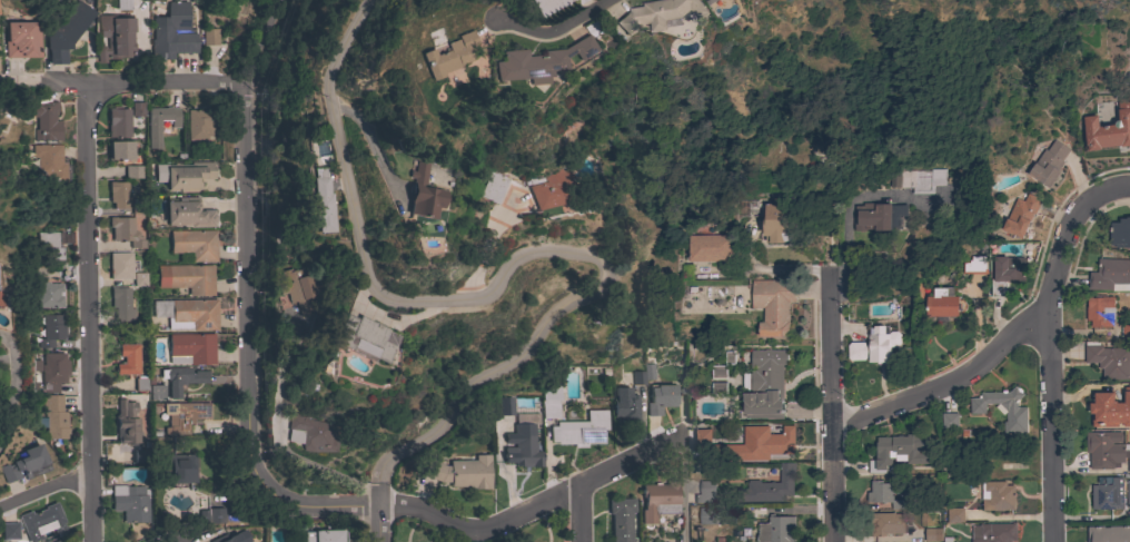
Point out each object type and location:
building: (711, 1)
building: (123, 4)
building: (545, 6)
building: (660, 14)
road: (555, 30)
building: (171, 32)
building: (115, 36)
building: (209, 36)
building: (22, 39)
building: (62, 39)
building: (1128, 45)
building: (449, 55)
building: (537, 61)
road: (48, 80)
road: (162, 85)
building: (137, 108)
building: (46, 120)
building: (117, 121)
building: (159, 122)
building: (199, 124)
building: (1110, 129)
road: (369, 136)
building: (119, 149)
building: (49, 160)
building: (1048, 164)
building: (132, 171)
building: (189, 176)
building: (918, 179)
building: (497, 183)
building: (553, 190)
building: (118, 194)
building: (418, 194)
building: (319, 200)
road: (850, 203)
building: (137, 206)
building: (188, 213)
building: (1020, 215)
building: (879, 216)
building: (780, 223)
building: (125, 230)
building: (1120, 233)
road: (249, 236)
building: (195, 244)
building: (49, 245)
building: (708, 248)
road: (533, 256)
building: (119, 265)
building: (973, 265)
road: (772, 270)
building: (1004, 273)
building: (1110, 275)
building: (139, 278)
building: (187, 278)
building: (298, 288)
building: (48, 294)
building: (1, 297)
building: (120, 304)
building: (943, 304)
building: (773, 305)
building: (1099, 312)
building: (187, 313)
road: (91, 324)
building: (51, 329)
building: (1126, 331)
road: (1017, 335)
building: (364, 338)
building: (874, 346)
building: (190, 348)
building: (127, 358)
building: (1109, 359)
building: (722, 366)
building: (52, 371)
building: (643, 374)
building: (181, 378)
building: (764, 385)
building: (717, 387)
road: (14, 388)
building: (156, 392)
building: (660, 398)
building: (549, 401)
building: (505, 405)
building: (624, 405)
road: (833, 406)
building: (1003, 408)
building: (1109, 408)
building: (53, 416)
building: (186, 416)
building: (949, 420)
building: (126, 424)
building: (579, 430)
road: (1051, 430)
building: (310, 433)
building: (697, 436)
building: (774, 441)
building: (521, 446)
building: (1106, 450)
building: (899, 451)
building: (140, 455)
building: (735, 455)
building: (26, 463)
road: (321, 467)
building: (179, 470)
building: (462, 472)
building: (769, 486)
road: (686, 487)
building: (704, 491)
road: (47, 492)
building: (884, 493)
building: (1128, 493)
building: (997, 495)
building: (1107, 495)
building: (658, 500)
building: (131, 501)
building: (755, 512)
road: (581, 513)
building: (160, 515)
building: (210, 515)
building: (710, 515)
building: (954, 515)
building: (619, 518)
building: (41, 521)
building: (885, 523)
road: (478, 526)
building: (776, 529)
building: (8, 530)
building: (993, 532)
building: (1108, 533)
building: (930, 534)
road: (198, 535)
building: (324, 535)
building: (232, 538)
building: (946, 539)
building: (57, 541)

